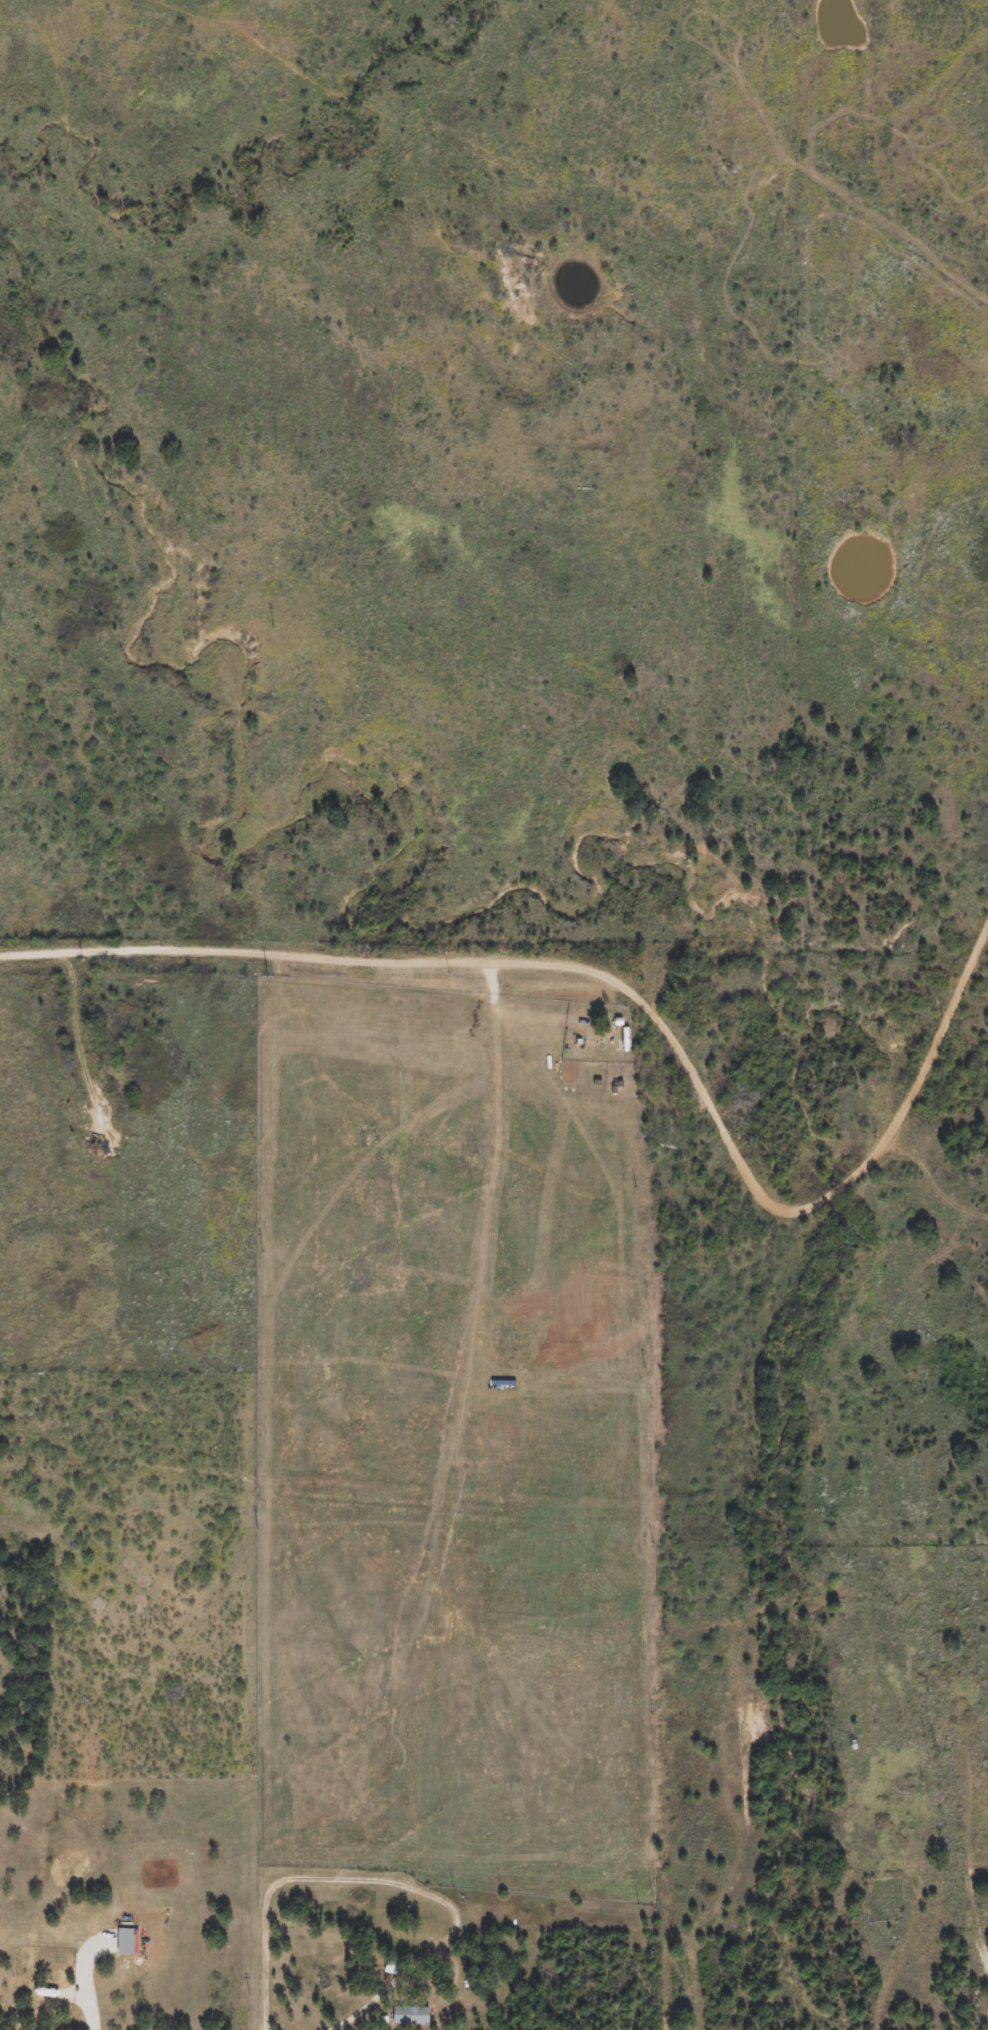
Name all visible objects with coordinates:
building: (984, 1715)
building: (916, 1788)
building: (410, 2014)

